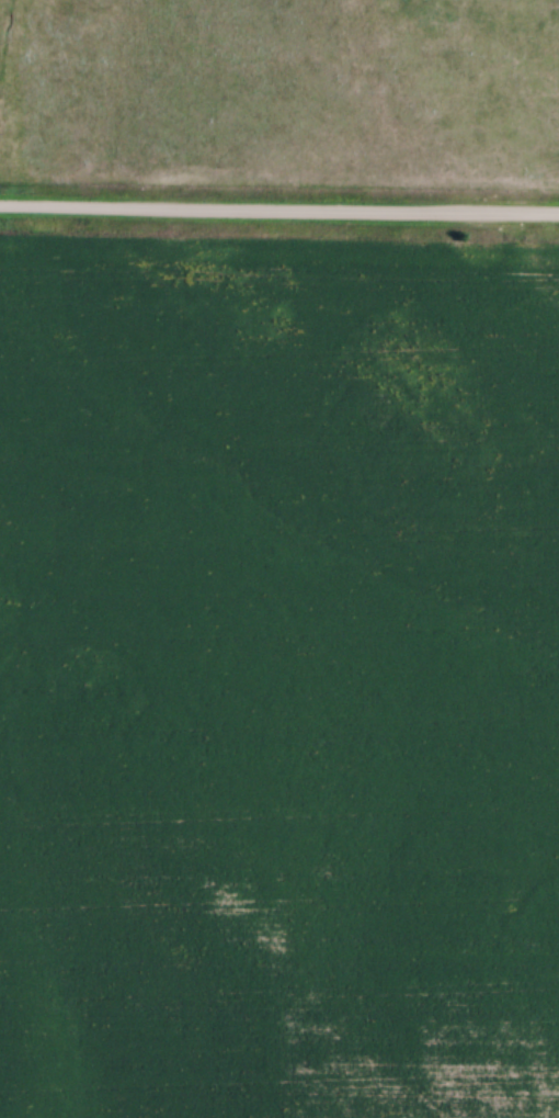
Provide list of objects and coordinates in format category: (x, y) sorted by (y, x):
road: (278, 217)

